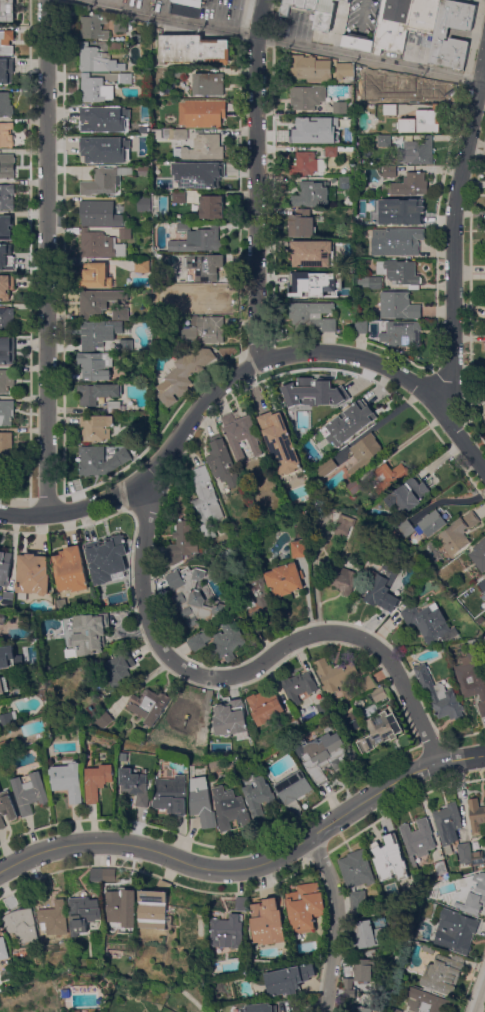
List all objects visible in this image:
building: (347, 0)
road: (483, 0)
building: (189, 2)
building: (298, 5)
building: (7, 11)
building: (325, 15)
building: (424, 16)
building: (121, 27)
building: (94, 28)
building: (385, 28)
building: (440, 37)
road: (275, 40)
building: (6, 42)
building: (116, 48)
building: (193, 50)
building: (97, 60)
building: (310, 69)
building: (6, 70)
building: (345, 71)
building: (180, 72)
building: (370, 75)
building: (126, 79)
building: (208, 84)
building: (410, 87)
building: (96, 90)
building: (307, 97)
building: (6, 105)
building: (341, 108)
building: (127, 109)
building: (390, 110)
building: (202, 113)
building: (422, 122)
building: (101, 123)
building: (303, 127)
building: (144, 129)
building: (168, 133)
building: (181, 134)
building: (7, 135)
building: (337, 140)
building: (385, 141)
building: (143, 144)
building: (203, 148)
building: (336, 150)
building: (420, 151)
building: (99, 153)
building: (305, 164)
building: (7, 166)
building: (188, 166)
building: (144, 171)
building: (389, 172)
building: (215, 178)
road: (256, 180)
building: (104, 181)
building: (346, 183)
building: (411, 185)
building: (312, 195)
building: (7, 197)
building: (179, 197)
building: (144, 204)
building: (212, 207)
building: (406, 212)
building: (101, 215)
building: (365, 221)
building: (302, 224)
building: (6, 229)
building: (350, 231)
building: (125, 234)
building: (197, 239)
building: (397, 242)
building: (100, 245)
building: (312, 253)
building: (7, 257)
road: (46, 257)
road: (455, 260)
building: (142, 266)
building: (205, 266)
building: (400, 273)
building: (95, 275)
building: (337, 276)
building: (350, 276)
building: (370, 283)
building: (306, 286)
building: (6, 287)
building: (210, 301)
building: (98, 302)
building: (398, 306)
building: (484, 311)
building: (120, 314)
building: (313, 317)
building: (6, 320)
building: (362, 327)
building: (204, 330)
building: (98, 333)
building: (402, 333)
building: (126, 345)
building: (7, 351)
building: (95, 366)
building: (183, 375)
building: (7, 381)
road: (216, 390)
building: (96, 393)
building: (317, 398)
building: (114, 407)
building: (6, 412)
building: (344, 426)
building: (96, 428)
building: (301, 432)
building: (241, 435)
building: (281, 443)
building: (6, 445)
building: (367, 454)
building: (101, 461)
building: (222, 462)
building: (3, 467)
building: (328, 468)
building: (392, 477)
building: (355, 487)
building: (409, 496)
building: (205, 502)
building: (434, 522)
building: (313, 523)
building: (324, 524)
building: (345, 524)
building: (459, 533)
building: (181, 543)
building: (369, 544)
building: (300, 549)
building: (479, 555)
building: (104, 559)
building: (5, 567)
building: (71, 570)
building: (34, 573)
building: (342, 575)
building: (285, 579)
building: (483, 585)
building: (385, 588)
building: (254, 596)
building: (193, 597)
building: (8, 598)
building: (114, 601)
building: (61, 604)
building: (102, 605)
building: (2, 618)
building: (481, 621)
building: (430, 622)
building: (89, 634)
building: (199, 641)
building: (227, 643)
building: (6, 656)
road: (254, 669)
building: (118, 672)
building: (335, 674)
building: (473, 678)
building: (368, 684)
building: (299, 686)
building: (1, 687)
building: (379, 694)
building: (441, 696)
building: (149, 705)
building: (266, 705)
building: (324, 708)
building: (184, 711)
building: (8, 718)
building: (104, 719)
building: (230, 719)
building: (294, 724)
building: (380, 731)
building: (203, 741)
building: (170, 743)
building: (10, 746)
building: (324, 757)
building: (68, 781)
building: (98, 782)
building: (135, 786)
building: (294, 787)
building: (30, 792)
building: (171, 795)
building: (260, 798)
building: (202, 802)
building: (7, 807)
building: (230, 809)
building: (477, 817)
building: (448, 822)
building: (418, 841)
building: (464, 853)
building: (387, 857)
building: (477, 857)
building: (440, 867)
road: (251, 870)
building: (96, 875)
building: (109, 875)
building: (358, 878)
building: (165, 886)
building: (43, 887)
building: (434, 892)
building: (475, 893)
building: (409, 900)
building: (11, 902)
building: (241, 903)
building: (306, 906)
building: (122, 908)
building: (152, 909)
building: (437, 909)
building: (84, 914)
building: (54, 919)
building: (268, 923)
road: (342, 923)
building: (22, 925)
building: (227, 933)
building: (369, 934)
building: (456, 936)
building: (3, 949)
building: (428, 949)
building: (443, 973)
building: (359, 975)
building: (289, 979)
road: (480, 998)
building: (428, 1000)
building: (261, 1008)
building: (350, 1008)
building: (396, 1010)

